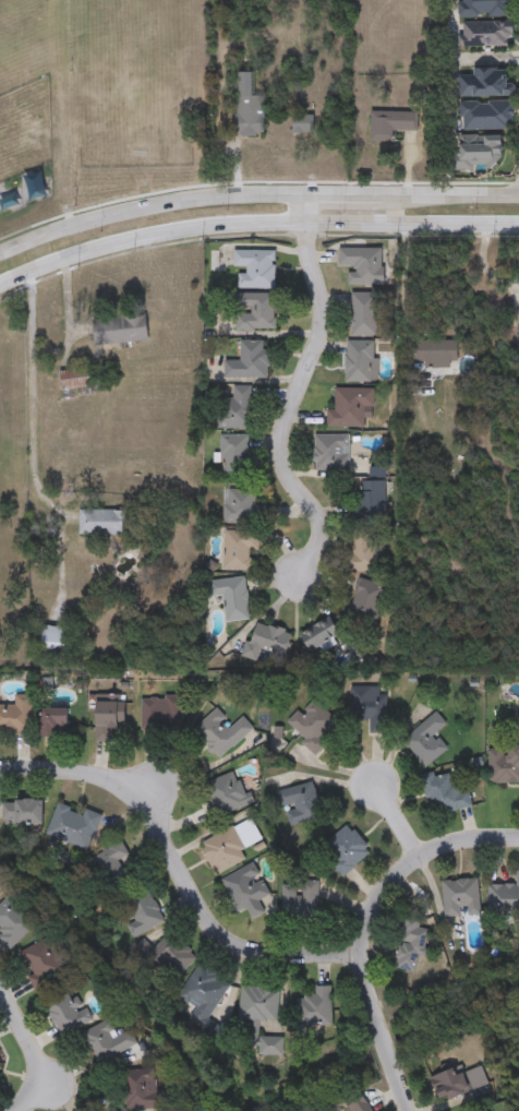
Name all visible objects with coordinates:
building: (229, 0)
building: (485, 9)
building: (486, 35)
building: (486, 85)
building: (248, 109)
building: (488, 118)
building: (303, 124)
building: (391, 127)
building: (478, 155)
road: (255, 198)
road: (304, 211)
road: (254, 225)
building: (362, 266)
building: (255, 270)
road: (405, 282)
building: (257, 312)
building: (364, 314)
building: (120, 330)
building: (435, 353)
building: (250, 362)
building: (360, 362)
building: (77, 382)
road: (29, 398)
road: (288, 404)
building: (350, 408)
building: (237, 410)
building: (331, 453)
building: (236, 458)
building: (374, 495)
building: (241, 507)
building: (105, 523)
building: (240, 550)
building: (232, 597)
building: (366, 602)
building: (321, 635)
building: (56, 641)
building: (268, 644)
building: (369, 707)
building: (162, 715)
building: (16, 717)
building: (109, 720)
building: (55, 722)
building: (313, 726)
building: (222, 733)
building: (426, 741)
building: (504, 765)
building: (226, 795)
building: (446, 796)
building: (300, 803)
building: (23, 812)
road: (396, 821)
building: (74, 826)
building: (230, 846)
building: (346, 850)
building: (112, 867)
road: (176, 870)
building: (245, 887)
building: (1, 889)
building: (461, 898)
building: (505, 899)
building: (311, 903)
building: (143, 912)
building: (13, 922)
road: (361, 925)
building: (412, 946)
building: (171, 957)
building: (43, 963)
building: (205, 994)
building: (259, 1005)
building: (68, 1013)
building: (315, 1013)
building: (109, 1042)
building: (271, 1047)
road: (33, 1050)
building: (1, 1071)
building: (138, 1086)
building: (460, 1086)
building: (360, 1106)

